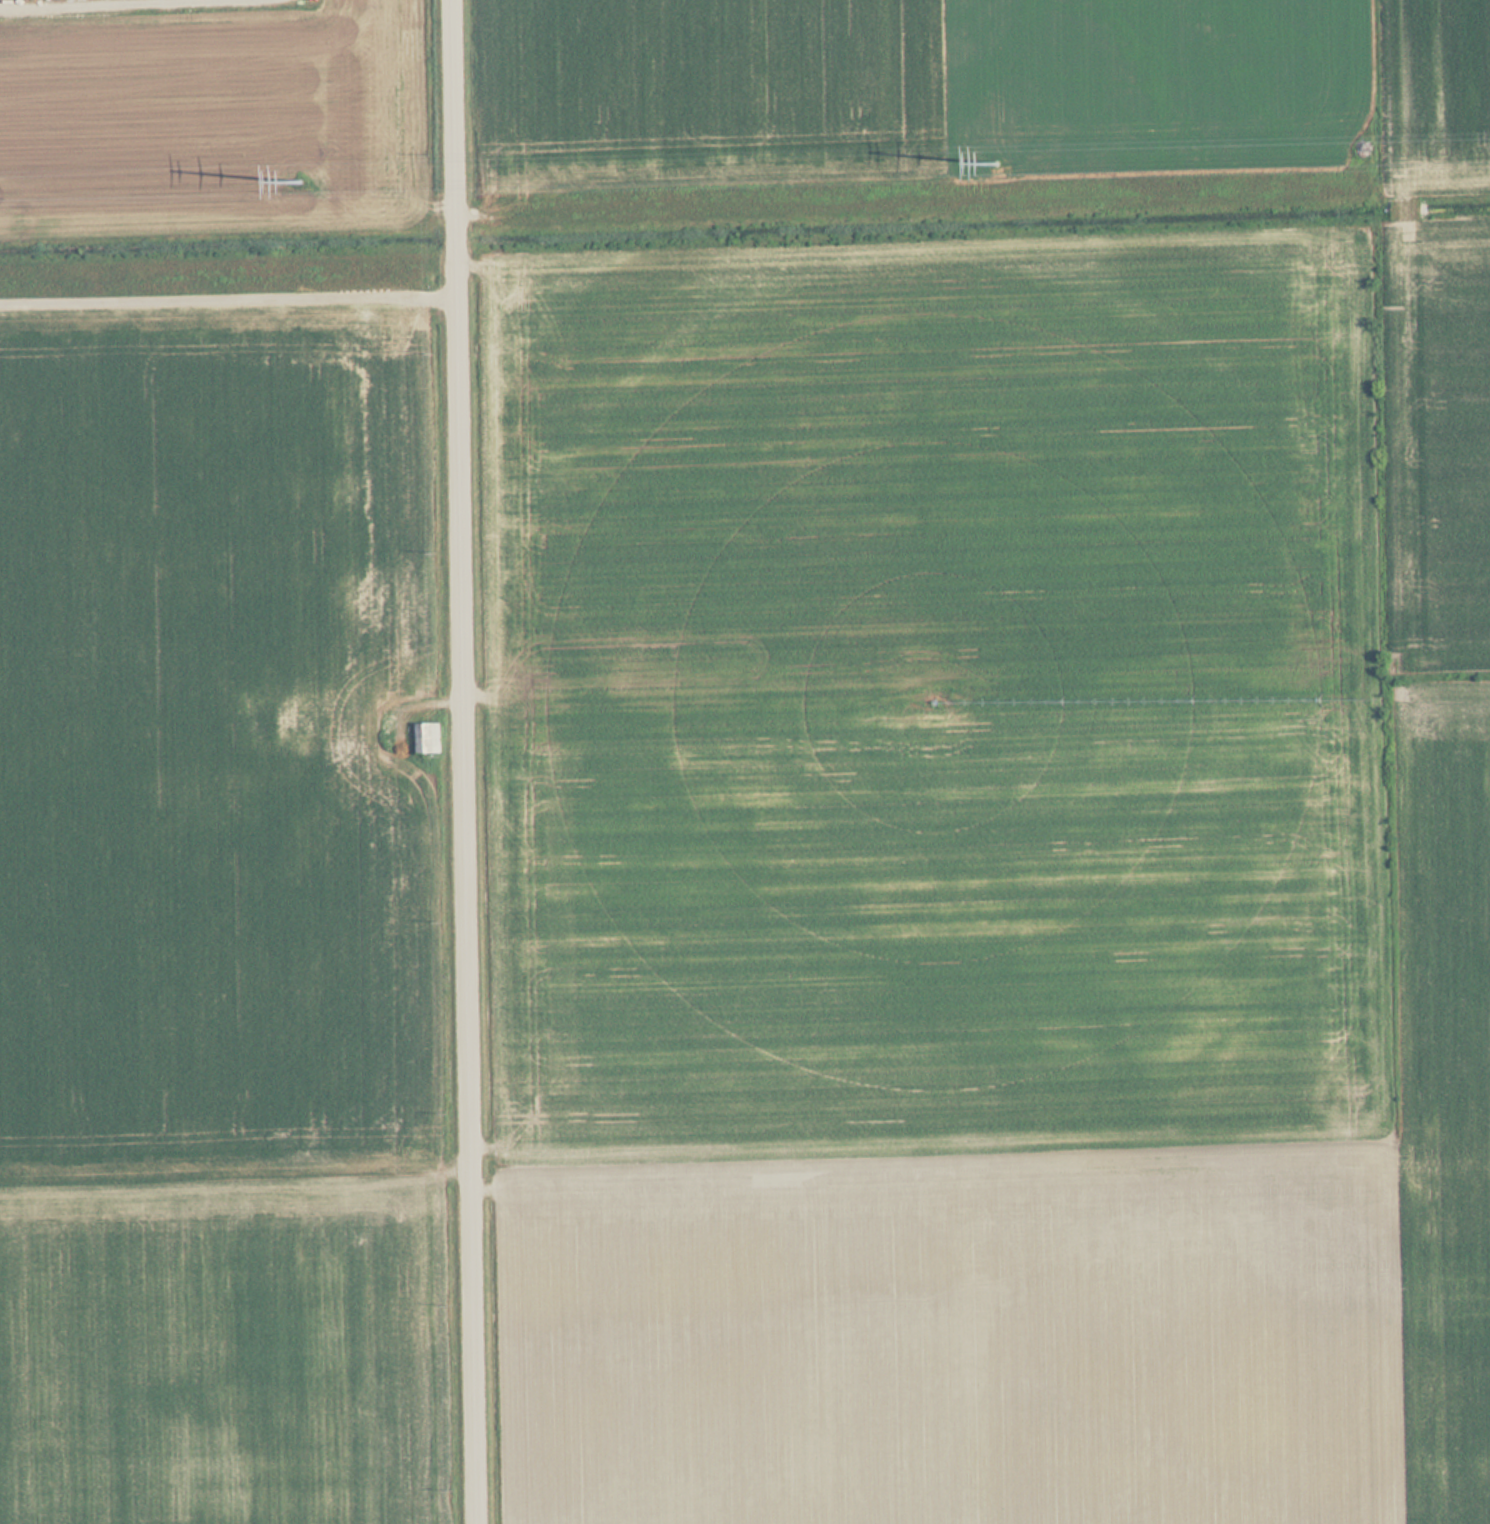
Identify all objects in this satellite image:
power tower: (1005, 144)
power tower: (310, 163)
road: (234, 283)
building: (314, 720)
building: (427, 738)
road: (476, 761)

